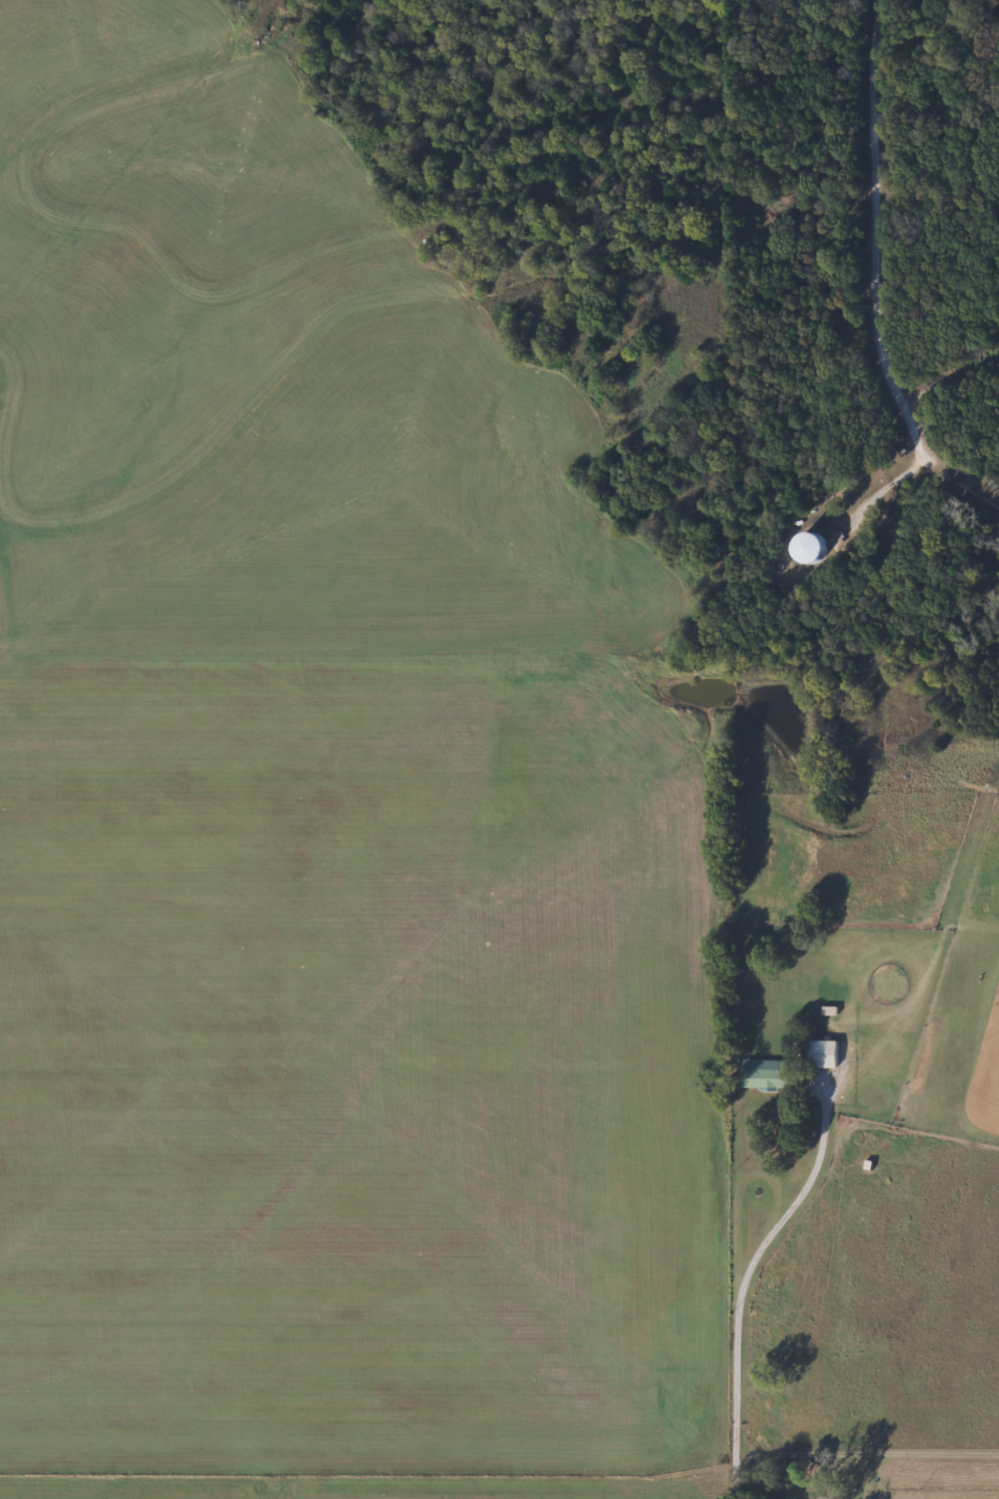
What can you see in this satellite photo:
road: (873, 222)
road: (961, 414)
road: (959, 467)
road: (942, 501)
building: (817, 546)
building: (820, 1053)
building: (768, 1078)
road: (743, 1278)

